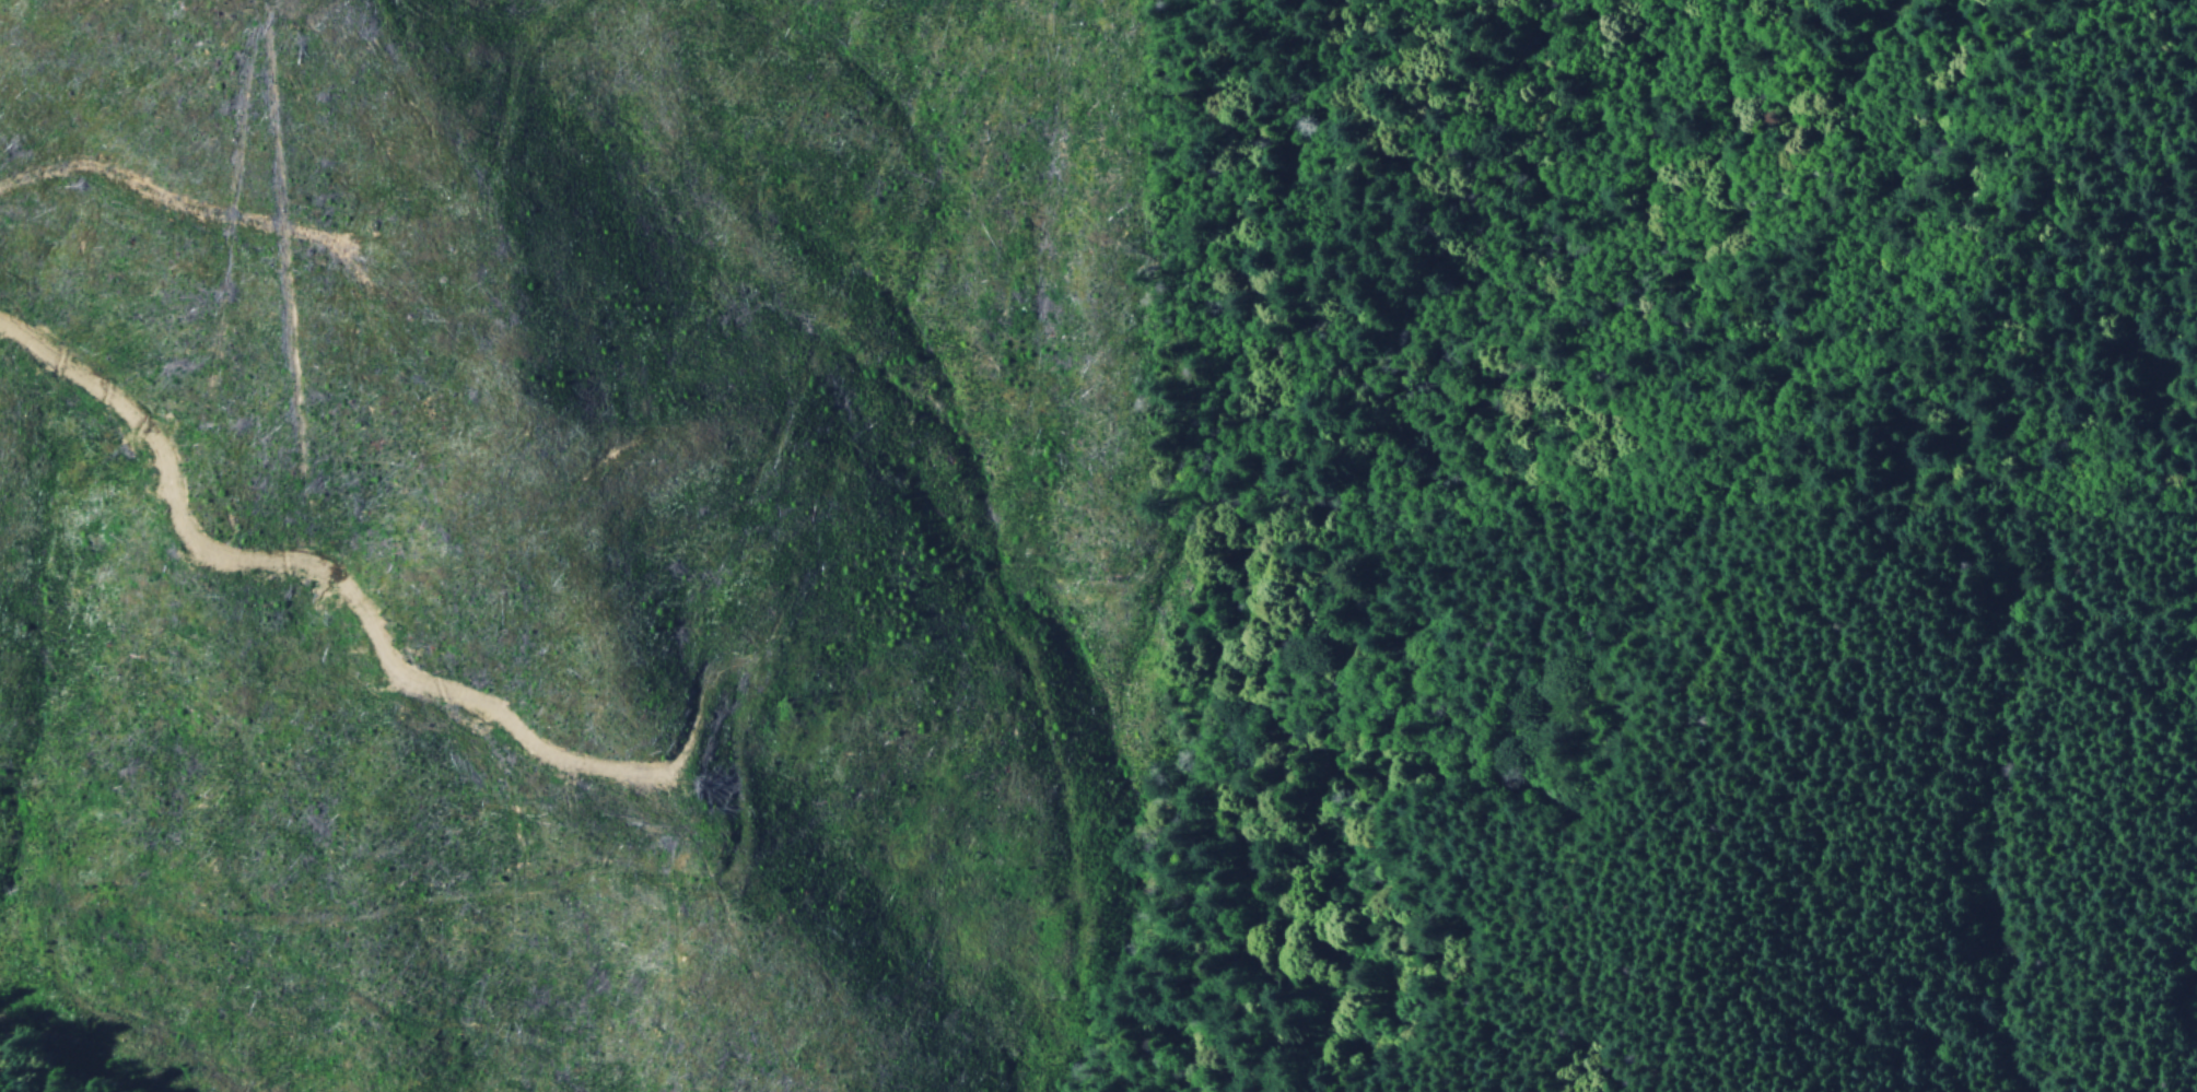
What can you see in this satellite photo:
road: (1815, 700)
road: (752, 797)
road: (43, 1057)

